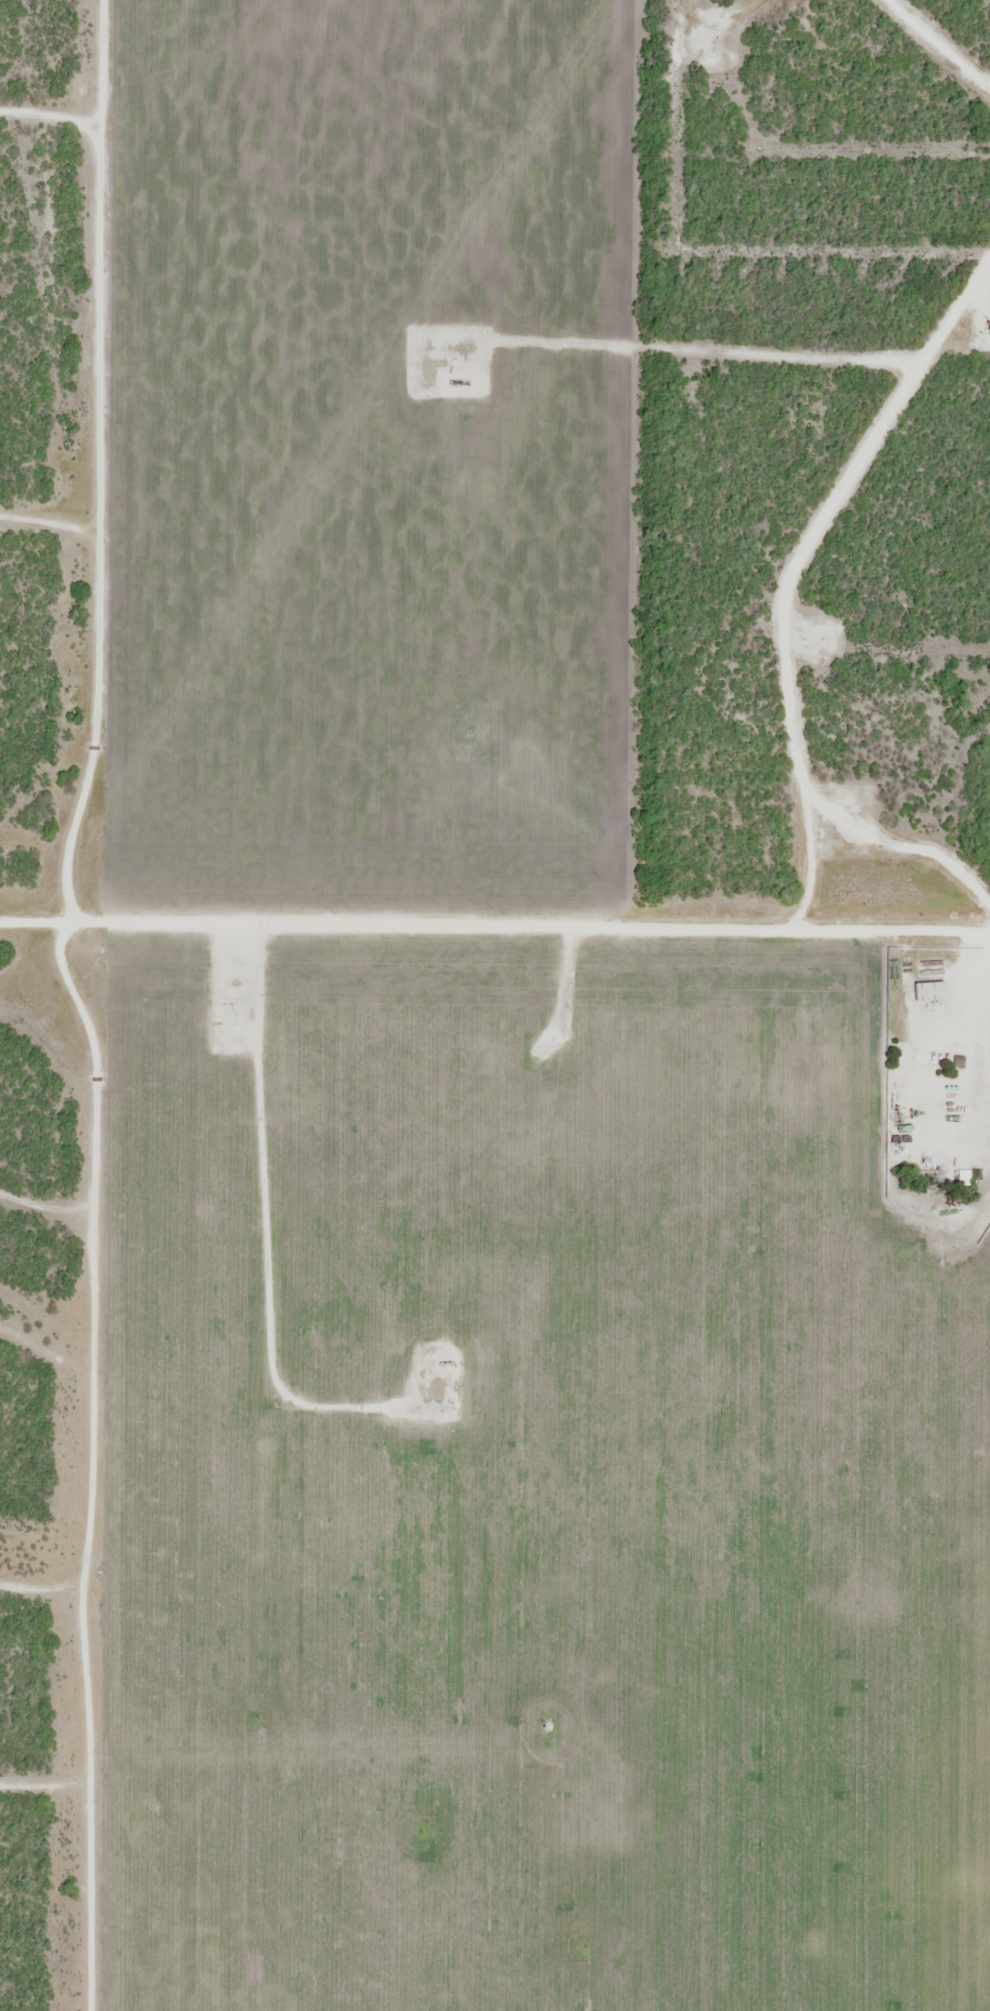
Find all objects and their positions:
road: (495, 929)
building: (918, 1059)
building: (963, 1178)

